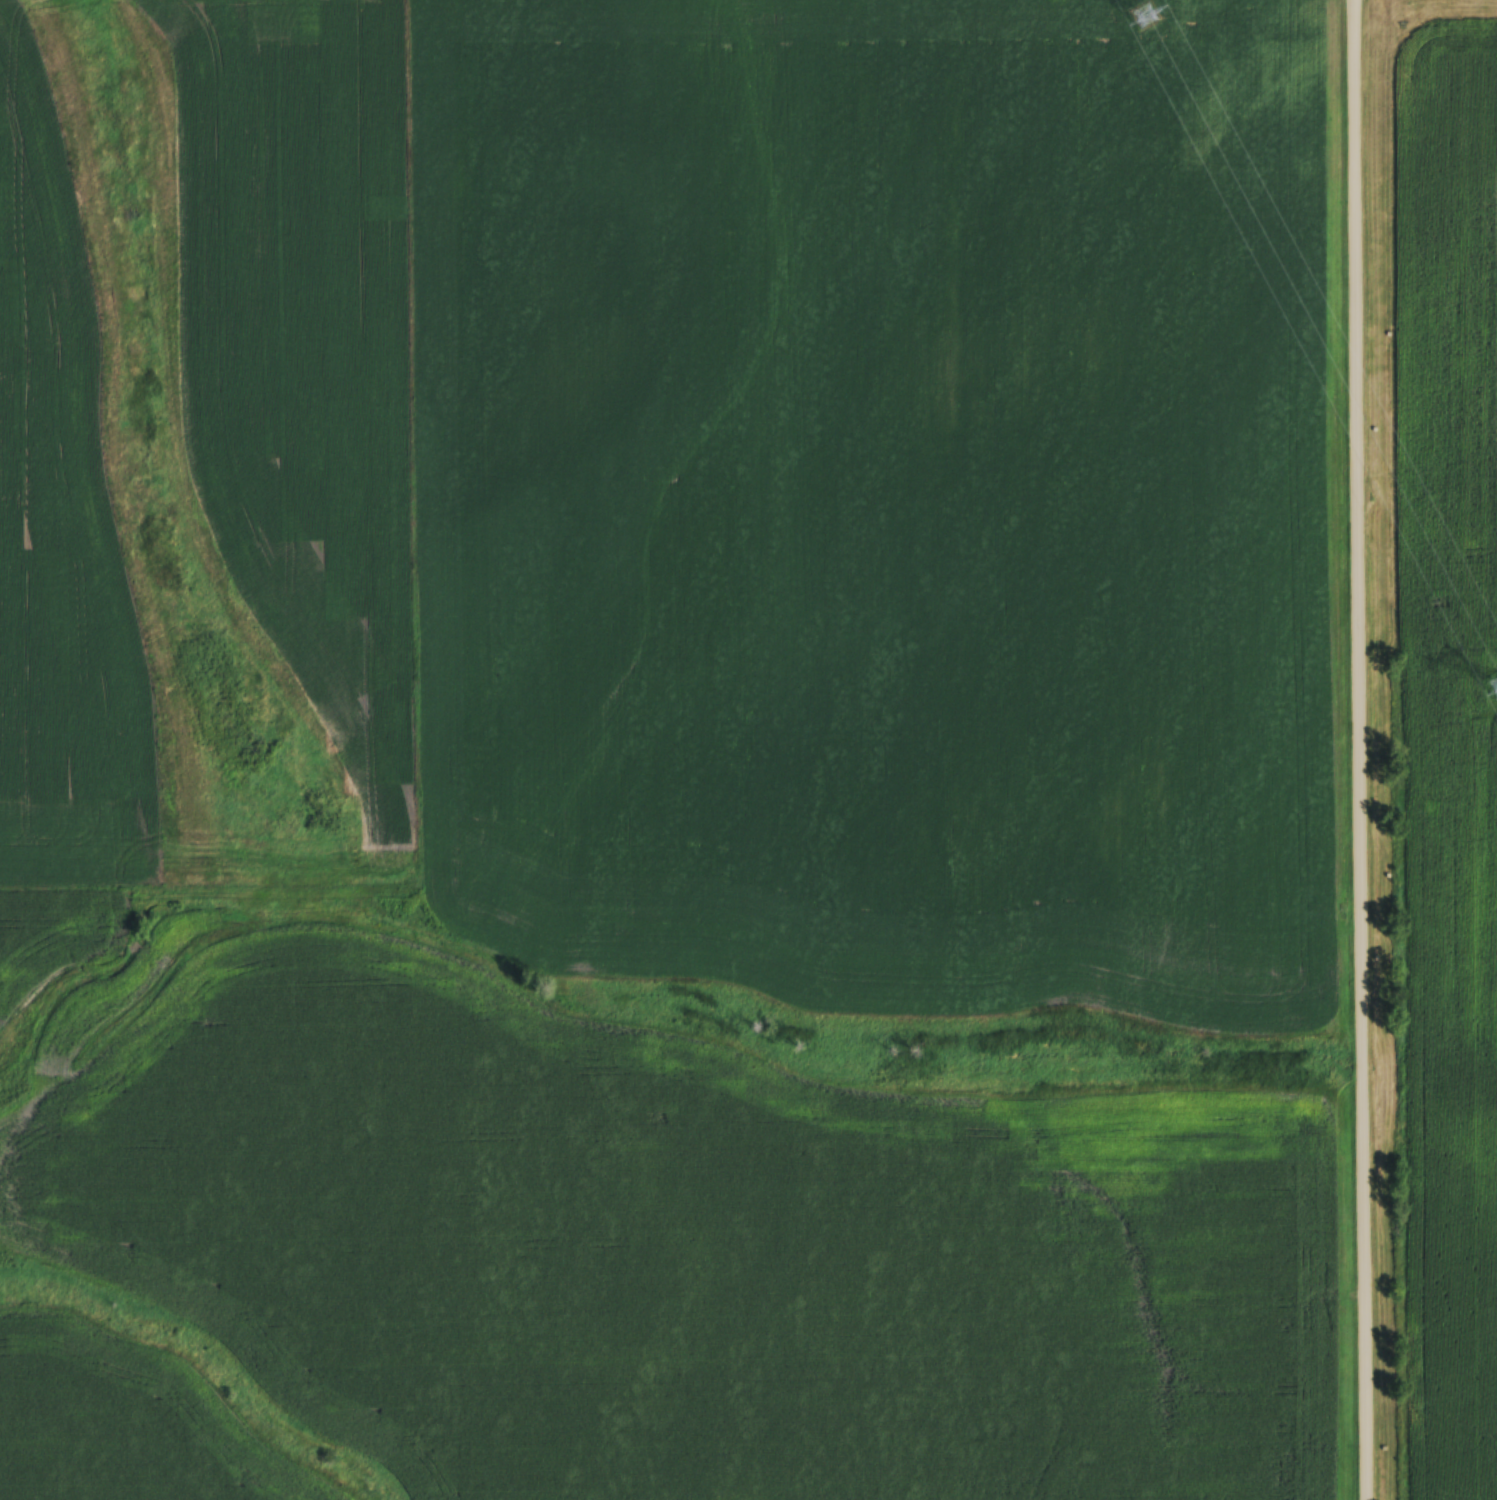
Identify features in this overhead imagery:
building: (1460, 4)
power tower: (1147, 21)
road: (1362, 750)

